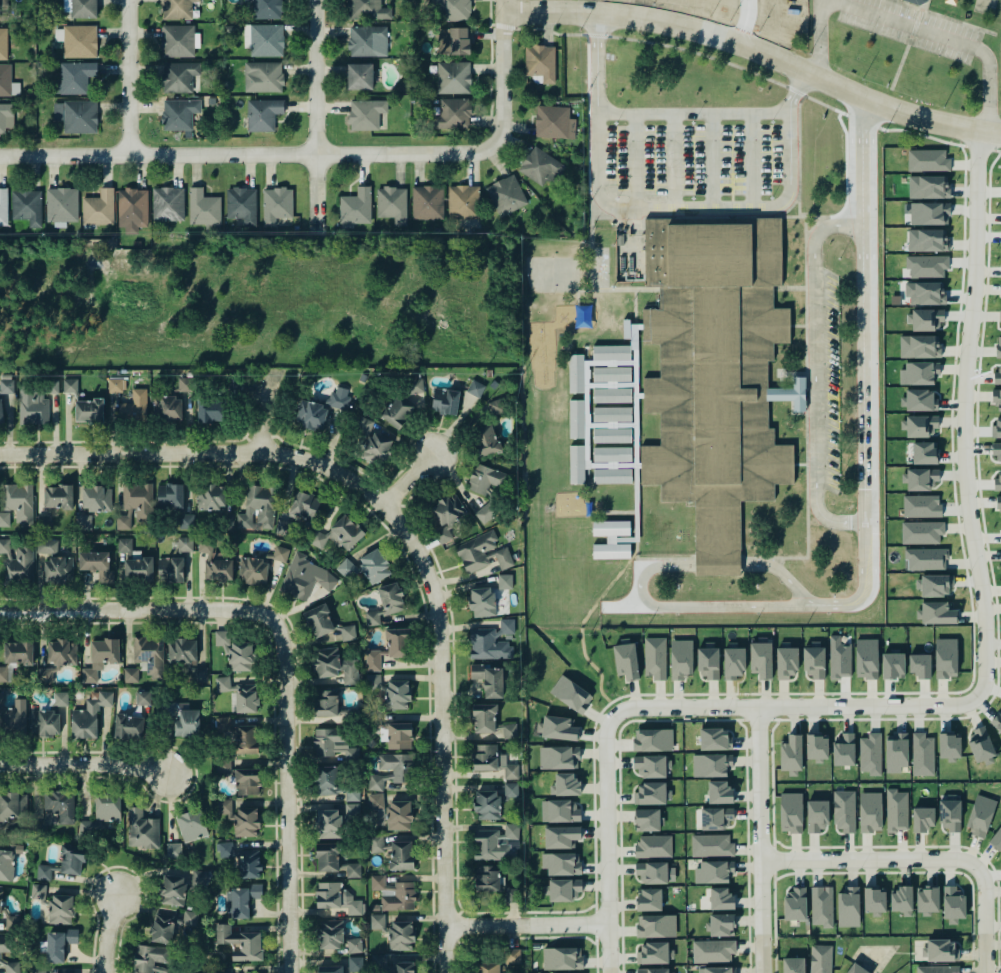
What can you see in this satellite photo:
building: (916, 1)
building: (949, 1)
road: (819, 4)
road: (925, 5)
park: (983, 6)
building: (84, 8)
building: (177, 9)
building: (266, 9)
building: (452, 9)
building: (367, 10)
road: (944, 17)
road: (744, 21)
road: (915, 21)
road: (491, 23)
road: (907, 24)
road: (503, 26)
parking lot: (911, 27)
road: (549, 29)
road: (596, 34)
building: (77, 40)
building: (178, 40)
building: (265, 40)
building: (367, 41)
building: (453, 41)
building: (3, 43)
road: (759, 48)
road: (699, 52)
road: (597, 59)
building: (540, 61)
road: (900, 61)
road: (490, 66)
road: (507, 74)
road: (131, 76)
building: (178, 76)
building: (263, 76)
building: (359, 76)
building: (75, 77)
building: (453, 77)
building: (7, 81)
road: (796, 85)
road: (794, 90)
road: (828, 105)
road: (693, 112)
building: (179, 114)
building: (263, 114)
building: (366, 114)
building: (452, 114)
road: (321, 115)
building: (76, 116)
building: (6, 117)
road: (862, 121)
building: (554, 122)
road: (877, 126)
road: (588, 137)
road: (939, 140)
road: (247, 151)
road: (797, 154)
parking lot: (692, 158)
road: (674, 159)
road: (711, 159)
road: (752, 159)
road: (634, 160)
building: (928, 160)
building: (540, 166)
building: (928, 186)
building: (505, 195)
building: (463, 201)
building: (427, 202)
building: (168, 203)
building: (392, 203)
building: (242, 204)
building: (276, 204)
building: (61, 205)
building: (3, 206)
building: (27, 206)
building: (356, 206)
road: (693, 207)
road: (787, 207)
building: (98, 208)
building: (132, 209)
building: (204, 209)
building: (929, 213)
road: (793, 216)
road: (642, 221)
road: (821, 228)
building: (927, 239)
building: (927, 265)
park: (551, 272)
road: (788, 286)
building: (925, 293)
building: (927, 319)
road: (796, 324)
building: (919, 346)
building: (998, 346)
building: (612, 353)
road: (861, 371)
building: (919, 372)
building: (715, 375)
road: (814, 377)
building: (997, 377)
parking lot: (829, 380)
building: (70, 385)
building: (115, 385)
building: (6, 386)
building: (475, 388)
road: (786, 393)
building: (996, 398)
building: (920, 399)
building: (35, 401)
building: (445, 401)
building: (171, 402)
building: (405, 403)
building: (134, 407)
building: (324, 408)
road: (262, 409)
building: (89, 410)
building: (1, 411)
building: (209, 411)
building: (576, 419)
building: (586, 423)
building: (611, 424)
building: (919, 426)
building: (997, 426)
road: (246, 437)
road: (258, 437)
road: (140, 439)
building: (487, 440)
building: (375, 441)
building: (924, 452)
building: (996, 452)
road: (25, 453)
building: (612, 454)
road: (799, 462)
road: (806, 471)
building: (486, 478)
building: (920, 479)
road: (411, 480)
building: (997, 482)
road: (380, 484)
road: (389, 495)
building: (170, 496)
building: (58, 497)
building: (211, 497)
building: (96, 498)
building: (16, 504)
road: (402, 504)
building: (304, 505)
building: (921, 506)
building: (999, 506)
building: (256, 507)
building: (485, 514)
building: (446, 516)
road: (827, 518)
building: (44, 520)
building: (186, 521)
building: (83, 522)
building: (286, 528)
building: (922, 532)
building: (339, 533)
building: (611, 539)
building: (185, 543)
building: (124, 544)
building: (46, 546)
road: (399, 548)
building: (483, 552)
building: (280, 553)
road: (423, 559)
building: (926, 559)
building: (18, 560)
building: (216, 562)
building: (96, 564)
building: (375, 565)
building: (346, 567)
road: (438, 568)
building: (57, 569)
building: (138, 569)
building: (170, 569)
building: (253, 569)
road: (641, 576)
building: (305, 577)
building: (506, 581)
building: (933, 585)
building: (482, 601)
building: (386, 603)
road: (172, 606)
building: (936, 613)
building: (322, 623)
building: (348, 632)
building: (221, 638)
building: (491, 641)
building: (398, 642)
road: (295, 648)
building: (18, 652)
building: (149, 654)
building: (240, 656)
building: (100, 657)
building: (655, 657)
building: (839, 657)
building: (58, 658)
building: (187, 658)
building: (681, 658)
building: (761, 658)
building: (866, 658)
building: (946, 658)
building: (626, 659)
building: (786, 660)
building: (814, 660)
building: (373, 661)
building: (708, 662)
building: (734, 662)
building: (893, 665)
building: (920, 665)
building: (335, 666)
road: (271, 668)
building: (6, 672)
building: (131, 675)
building: (487, 679)
building: (391, 691)
building: (239, 693)
building: (571, 694)
building: (59, 698)
building: (142, 698)
building: (326, 703)
road: (951, 705)
building: (349, 714)
building: (89, 715)
building: (13, 717)
building: (485, 718)
building: (183, 719)
building: (997, 722)
building: (128, 726)
building: (223, 726)
building: (559, 728)
building: (509, 730)
building: (399, 735)
building: (715, 738)
building: (247, 739)
building: (653, 739)
building: (334, 744)
building: (980, 744)
building: (950, 746)
building: (817, 747)
building: (844, 749)
building: (896, 752)
building: (791, 753)
building: (871, 754)
building: (923, 754)
building: (559, 757)
building: (493, 760)
road: (84, 763)
building: (711, 764)
building: (223, 765)
building: (650, 766)
building: (402, 770)
road: (194, 776)
building: (247, 781)
building: (333, 783)
building: (565, 784)
building: (511, 789)
building: (719, 792)
building: (650, 793)
building: (487, 804)
building: (13, 805)
building: (60, 805)
building: (107, 807)
building: (378, 807)
building: (560, 810)
building: (844, 810)
building: (897, 810)
building: (870, 811)
building: (351, 812)
building: (791, 812)
building: (950, 814)
building: (399, 815)
building: (817, 815)
building: (980, 815)
building: (240, 817)
building: (717, 818)
building: (923, 818)
building: (647, 819)
building: (329, 823)
building: (192, 825)
building: (89, 828)
building: (142, 829)
road: (288, 829)
building: (561, 836)
road: (760, 839)
building: (996, 839)
building: (497, 843)
building: (377, 845)
building: (712, 845)
building: (653, 846)
building: (173, 850)
building: (401, 855)
building: (327, 857)
building: (242, 859)
road: (869, 859)
building: (71, 862)
building: (561, 863)
building: (6, 864)
road: (122, 865)
building: (351, 869)
building: (714, 871)
building: (44, 872)
building: (652, 872)
building: (199, 877)
building: (488, 878)
building: (173, 889)
building: (564, 889)
building: (38, 891)
building: (394, 893)
building: (337, 898)
building: (721, 898)
building: (927, 898)
building: (244, 899)
building: (650, 899)
building: (901, 900)
building: (874, 901)
building: (0, 902)
building: (953, 903)
building: (795, 904)
building: (822, 905)
road: (594, 907)
building: (848, 907)
building: (59, 909)
road: (460, 912)
road: (984, 918)
building: (377, 921)
road: (594, 923)
road: (527, 924)
building: (722, 924)
building: (656, 925)
building: (169, 926)
road: (458, 926)
street lamp: (993, 933)
building: (331, 934)
building: (401, 935)
road: (114, 936)
road: (476, 938)
road: (595, 939)
road: (460, 941)
building: (240, 942)
road: (622, 943)
building: (60, 944)
building: (354, 945)
building: (942, 950)
building: (713, 951)
building: (653, 952)
road: (749, 954)
road: (774, 954)
road: (972, 954)
road: (997, 954)
building: (0, 956)
building: (512, 956)
building: (562, 958)
building: (821, 958)
building: (153, 959)
building: (355, 964)
building: (402, 965)
building: (794, 965)
building: (487, 967)
building: (38, 969)
building: (330, 969)
building: (716, 969)
building: (856, 969)
building: (937, 969)
building: (653, 970)
road: (596, 972)

